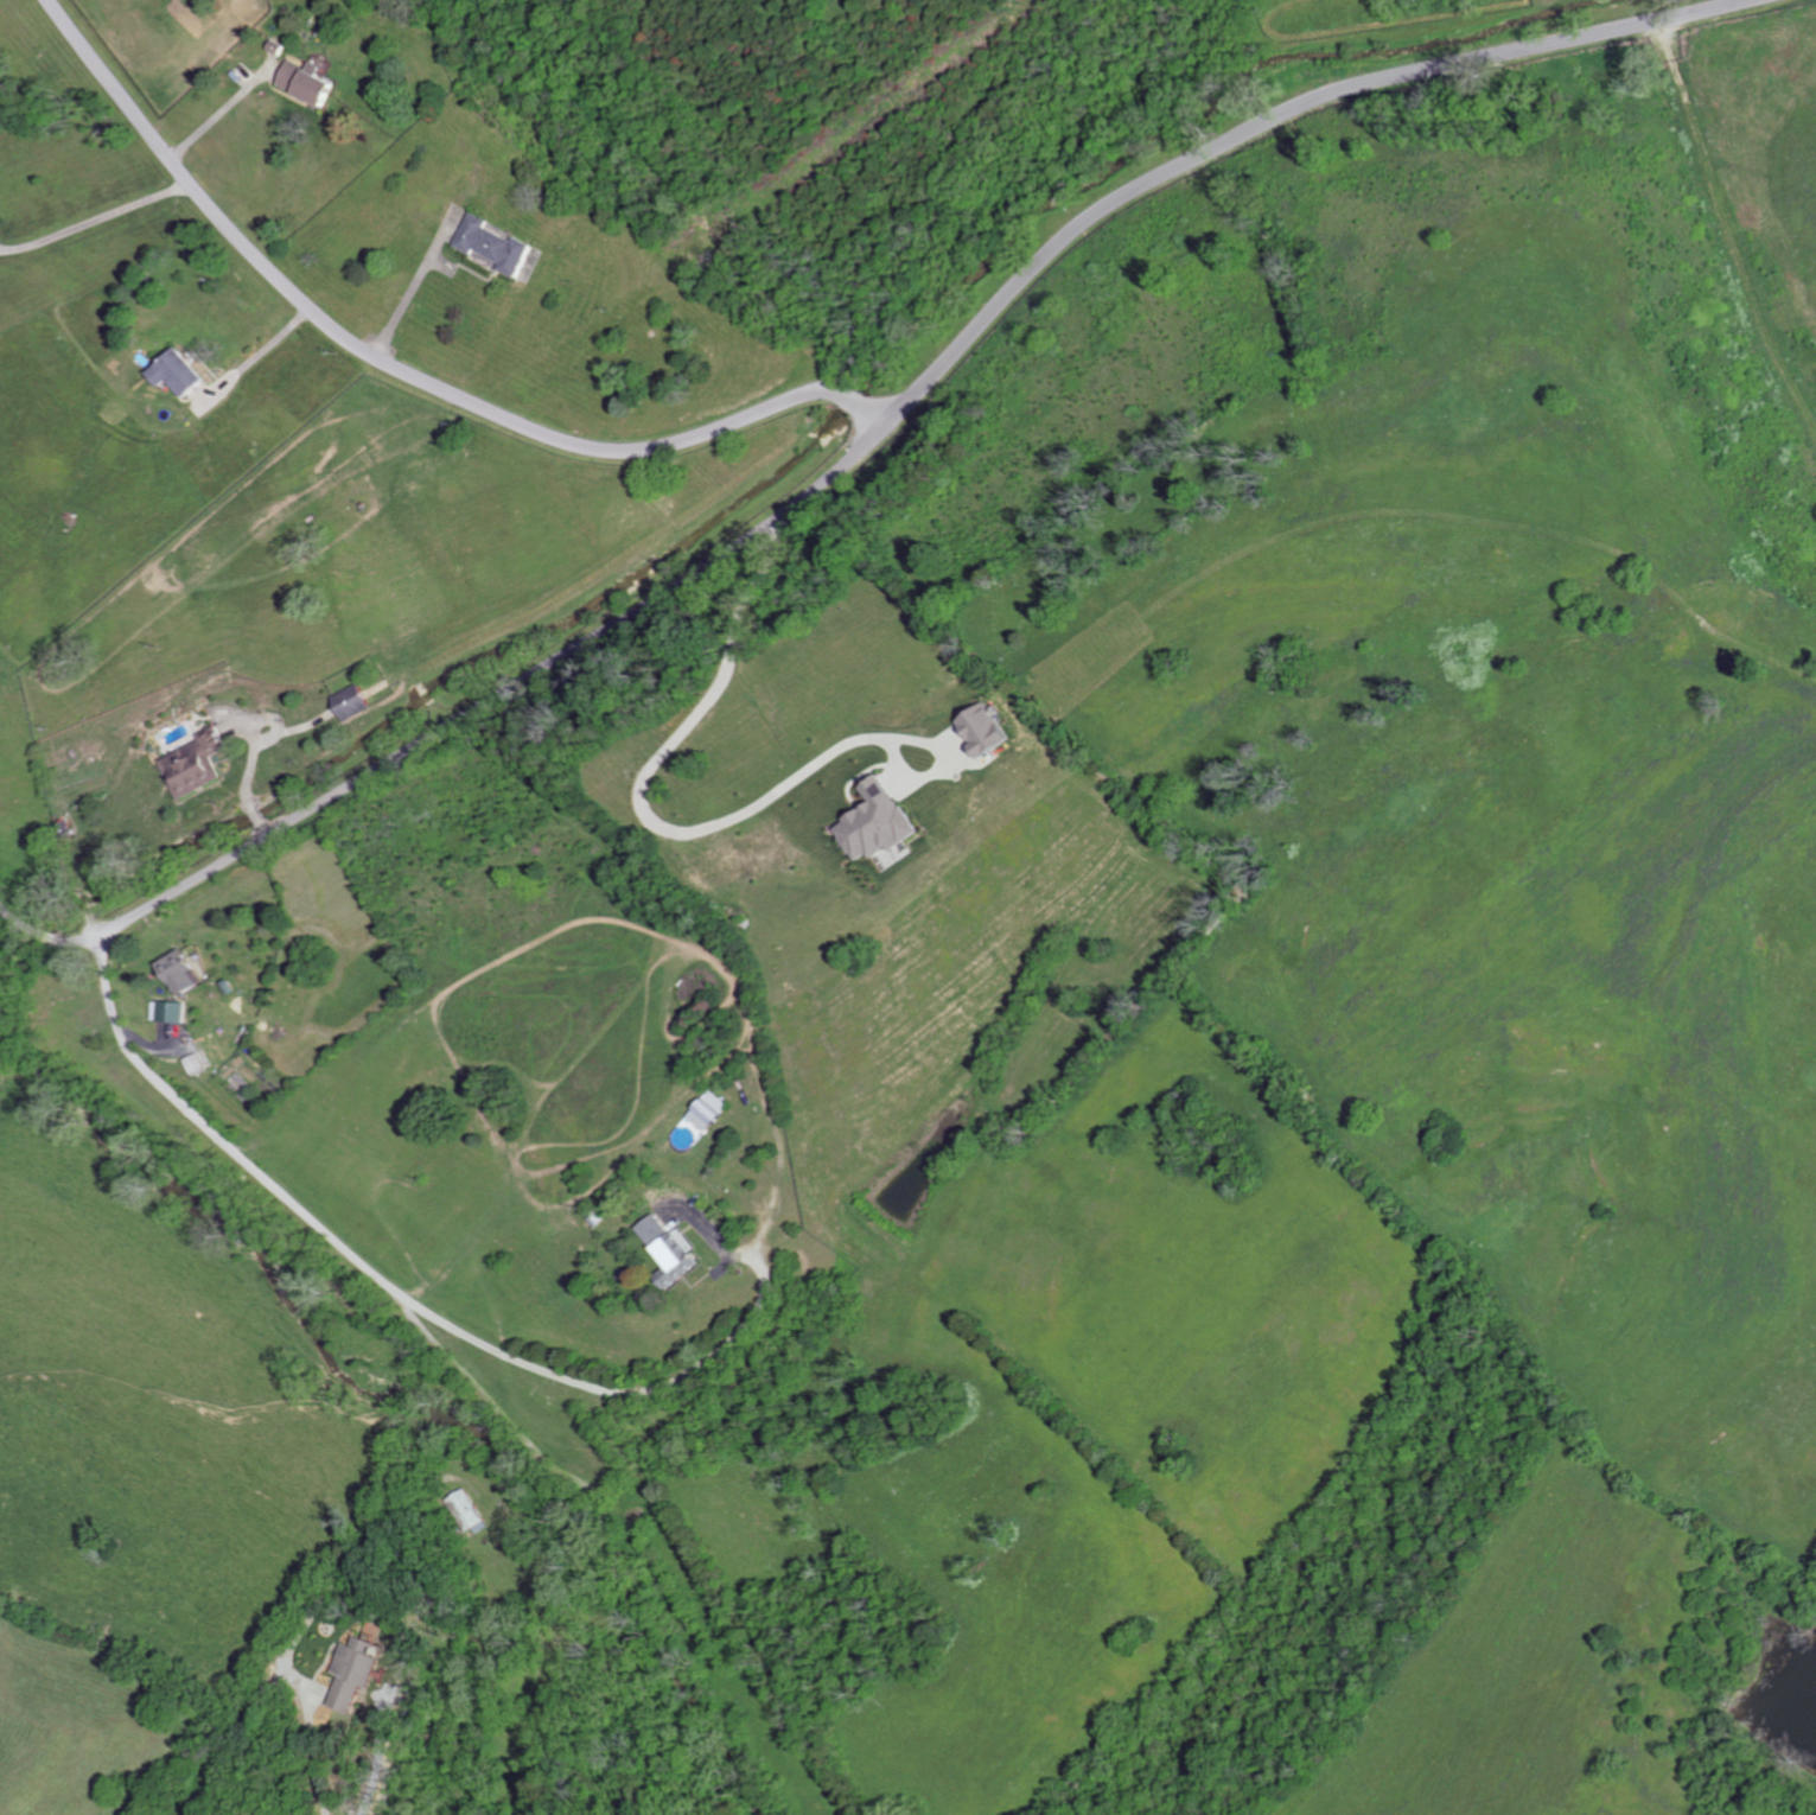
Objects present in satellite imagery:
building: (314, 81)
road: (214, 115)
road: (95, 219)
building: (498, 244)
road: (413, 285)
road: (260, 351)
building: (183, 372)
road: (403, 372)
road: (907, 406)
building: (357, 701)
building: (990, 730)
building: (200, 764)
road: (641, 810)
building: (881, 823)
road: (47, 932)
building: (184, 973)
building: (171, 1012)
building: (198, 1063)
building: (713, 1110)
road: (734, 1249)
building: (675, 1250)
road: (371, 1269)
building: (362, 1670)
road: (320, 1752)
road: (388, 1760)

